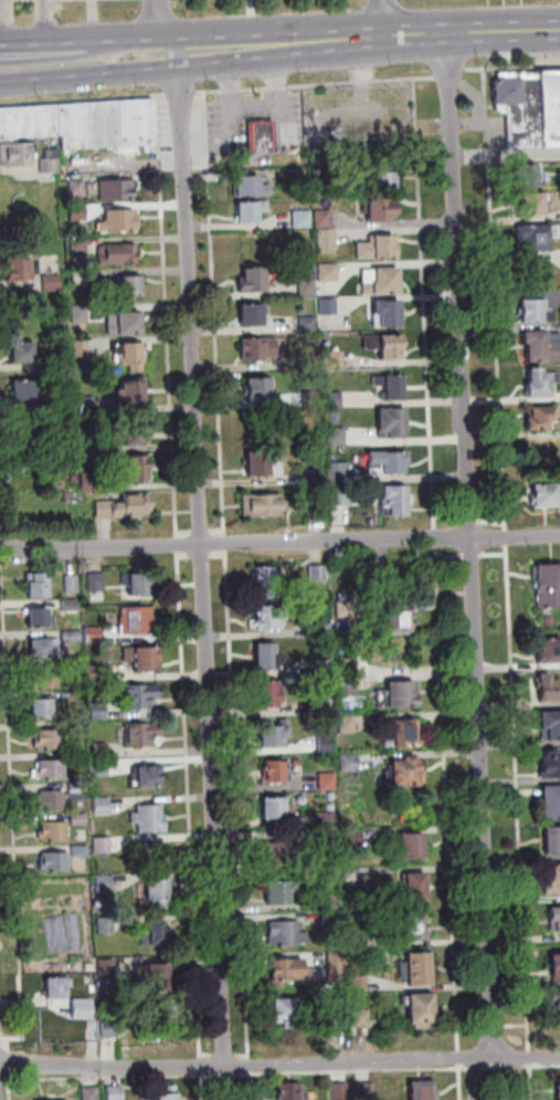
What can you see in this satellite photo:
road: (4, 0)
road: (384, 19)
road: (50, 21)
road: (9, 22)
road: (158, 27)
road: (473, 33)
road: (42, 42)
road: (121, 45)
road: (282, 45)
road: (168, 53)
road: (513, 67)
road: (452, 73)
road: (80, 74)
road: (317, 84)
road: (182, 92)
road: (83, 98)
building: (531, 106)
building: (85, 122)
building: (263, 136)
building: (17, 153)
road: (508, 156)
building: (51, 165)
building: (531, 176)
building: (383, 181)
building: (300, 184)
building: (329, 185)
building: (251, 186)
building: (78, 187)
building: (118, 189)
building: (532, 202)
building: (381, 208)
building: (252, 209)
building: (80, 210)
building: (325, 218)
building: (304, 219)
building: (121, 220)
building: (538, 235)
building: (329, 239)
building: (81, 245)
building: (379, 247)
building: (119, 254)
building: (19, 268)
building: (330, 271)
building: (82, 276)
building: (254, 279)
building: (382, 279)
building: (53, 282)
building: (134, 285)
building: (308, 286)
road: (497, 298)
road: (426, 303)
building: (330, 305)
building: (538, 311)
building: (389, 312)
building: (81, 313)
road: (216, 313)
building: (254, 313)
road: (169, 315)
building: (126, 322)
building: (309, 323)
building: (387, 344)
building: (543, 345)
building: (260, 347)
building: (83, 348)
building: (24, 352)
building: (131, 353)
building: (336, 358)
building: (309, 359)
building: (540, 383)
building: (393, 385)
building: (27, 388)
building: (260, 388)
building: (136, 390)
building: (313, 398)
building: (336, 398)
building: (59, 400)
building: (88, 404)
building: (542, 418)
building: (394, 421)
building: (137, 433)
building: (338, 436)
building: (24, 437)
building: (89, 442)
building: (391, 460)
building: (260, 463)
building: (139, 468)
building: (339, 472)
building: (316, 475)
building: (76, 476)
building: (91, 480)
building: (547, 494)
building: (341, 495)
building: (398, 497)
building: (264, 504)
building: (127, 505)
road: (1, 513)
building: (318, 513)
road: (451, 518)
road: (473, 521)
road: (495, 523)
road: (219, 531)
road: (188, 532)
road: (203, 532)
road: (1, 535)
road: (509, 537)
road: (436, 538)
road: (226, 542)
road: (279, 542)
road: (180, 544)
road: (473, 545)
road: (2, 551)
road: (220, 554)
road: (187, 555)
road: (202, 555)
road: (497, 555)
road: (452, 556)
road: (474, 556)
road: (1, 566)
building: (397, 570)
building: (319, 573)
road: (204, 576)
building: (98, 582)
building: (267, 582)
building: (73, 583)
building: (141, 583)
building: (548, 583)
building: (39, 584)
building: (344, 596)
building: (71, 605)
building: (346, 608)
building: (40, 617)
building: (272, 617)
building: (400, 618)
building: (139, 620)
building: (549, 620)
building: (323, 629)
building: (95, 635)
building: (73, 637)
building: (46, 647)
building: (550, 649)
building: (268, 656)
building: (144, 657)
building: (349, 666)
building: (324, 667)
building: (97, 673)
building: (46, 678)
building: (349, 683)
building: (547, 688)
building: (270, 693)
building: (403, 693)
building: (141, 694)
building: (43, 709)
building: (99, 710)
building: (349, 723)
building: (551, 723)
building: (405, 733)
building: (142, 734)
building: (275, 734)
building: (51, 740)
building: (327, 744)
building: (102, 750)
building: (298, 762)
building: (351, 763)
building: (551, 764)
building: (102, 767)
building: (52, 769)
building: (275, 771)
building: (406, 772)
building: (149, 776)
building: (329, 781)
building: (78, 790)
building: (331, 795)
road: (520, 797)
road: (448, 799)
building: (52, 800)
building: (551, 802)
road: (191, 805)
road: (239, 805)
building: (103, 806)
building: (332, 807)
building: (277, 808)
road: (14, 809)
building: (150, 818)
building: (81, 819)
building: (329, 819)
building: (55, 830)
building: (355, 838)
building: (329, 839)
building: (552, 839)
building: (104, 845)
building: (414, 846)
building: (82, 851)
building: (156, 851)
building: (281, 853)
building: (55, 861)
building: (553, 878)
building: (106, 882)
building: (418, 887)
building: (159, 889)
building: (281, 891)
building: (361, 895)
building: (332, 901)
building: (331, 918)
building: (556, 919)
building: (108, 924)
building: (413, 926)
building: (157, 933)
building: (288, 933)
building: (359, 941)
building: (337, 960)
building: (91, 966)
building: (107, 966)
building: (421, 968)
building: (556, 968)
building: (287, 971)
building: (157, 976)
building: (361, 984)
building: (56, 987)
building: (559, 1005)
building: (423, 1009)
building: (286, 1012)
building: (165, 1018)
building: (362, 1018)
building: (337, 1019)
road: (516, 1026)
road: (473, 1027)
road: (495, 1027)
building: (112, 1028)
road: (1, 1039)
road: (11, 1045)
road: (210, 1056)
road: (228, 1056)
road: (244, 1056)
road: (531, 1056)
road: (461, 1057)
road: (12, 1062)
road: (279, 1065)
road: (542, 1065)
road: (203, 1066)
road: (252, 1066)
road: (497, 1066)
road: (518, 1066)
road: (477, 1067)
road: (353, 1071)
road: (228, 1076)
road: (116, 1078)
road: (518, 1078)
road: (477, 1079)
road: (532, 1080)
road: (462, 1082)
road: (252, 1086)
road: (203, 1087)
road: (13, 1088)
building: (424, 1090)
building: (341, 1091)
building: (366, 1091)
building: (116, 1092)
building: (293, 1092)
building: (559, 1092)
building: (92, 1093)
building: (170, 1093)

